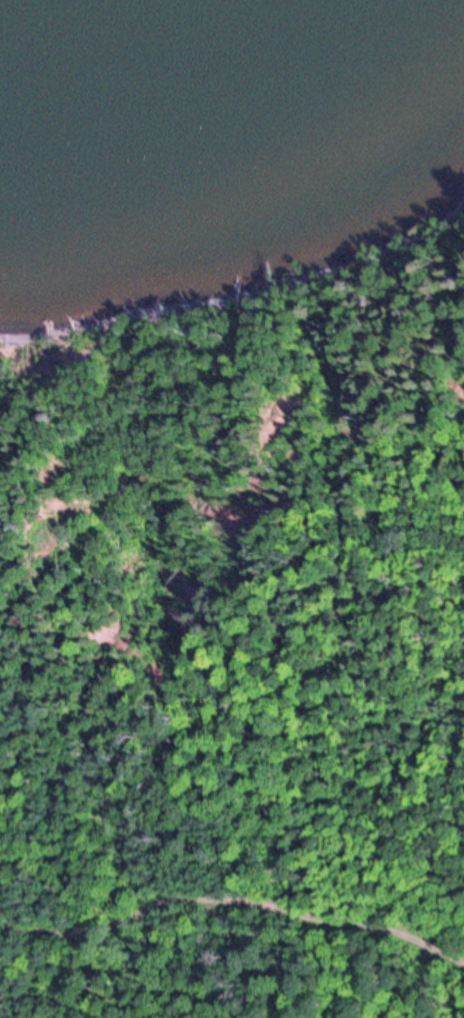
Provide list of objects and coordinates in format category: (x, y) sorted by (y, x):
road: (232, 898)

